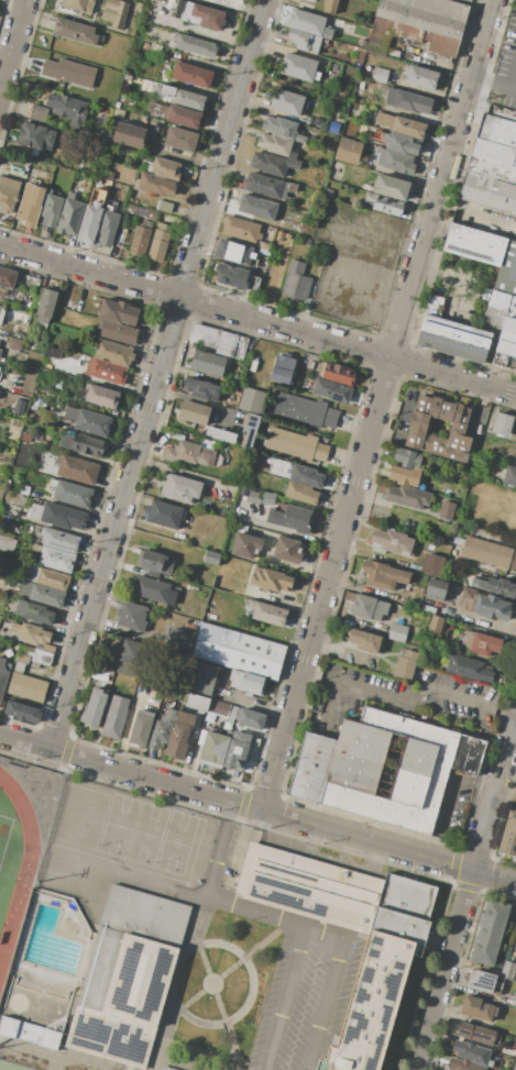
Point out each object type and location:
building: (78, 5)
building: (329, 5)
road: (12, 8)
building: (437, 8)
building: (114, 12)
building: (201, 15)
building: (419, 19)
building: (307, 22)
building: (75, 31)
road: (200, 31)
building: (408, 37)
building: (304, 41)
building: (195, 45)
road: (13, 47)
building: (154, 47)
building: (398, 55)
building: (162, 58)
road: (503, 64)
building: (298, 66)
parking lot: (505, 69)
building: (69, 73)
building: (380, 74)
building: (191, 75)
building: (420, 76)
building: (127, 77)
building: (182, 97)
building: (408, 100)
building: (287, 102)
building: (67, 109)
building: (37, 112)
building: (180, 115)
building: (402, 125)
building: (279, 126)
building: (129, 134)
building: (35, 136)
building: (299, 137)
building: (180, 139)
building: (496, 140)
building: (399, 143)
building: (274, 144)
building: (348, 151)
building: (293, 154)
building: (396, 162)
building: (273, 164)
building: (164, 168)
building: (492, 168)
building: (106, 174)
building: (156, 184)
building: (266, 186)
building: (392, 187)
building: (293, 188)
building: (488, 191)
building: (8, 194)
building: (30, 205)
building: (384, 205)
building: (164, 206)
building: (259, 208)
building: (51, 210)
building: (140, 211)
building: (69, 216)
building: (90, 219)
building: (107, 229)
building: (241, 229)
building: (268, 234)
building: (279, 235)
building: (287, 236)
building: (140, 239)
building: (307, 241)
building: (160, 242)
building: (474, 244)
building: (265, 246)
building: (233, 252)
building: (507, 269)
building: (7, 277)
building: (237, 277)
road: (457, 279)
building: (296, 280)
building: (69, 305)
building: (433, 305)
building: (44, 308)
building: (118, 311)
building: (1, 313)
road: (257, 319)
building: (505, 329)
building: (119, 333)
building: (453, 339)
building: (0, 340)
building: (219, 341)
building: (15, 343)
building: (0, 352)
building: (52, 352)
building: (113, 353)
building: (208, 363)
building: (252, 368)
building: (283, 368)
building: (106, 371)
building: (339, 373)
road: (157, 374)
building: (234, 378)
road: (98, 380)
building: (202, 389)
building: (331, 390)
building: (102, 396)
road: (197, 400)
building: (251, 400)
building: (307, 405)
road: (377, 405)
building: (194, 412)
building: (303, 416)
building: (88, 421)
building: (503, 427)
building: (416, 429)
building: (250, 430)
building: (220, 434)
building: (297, 439)
building: (83, 444)
building: (295, 450)
building: (188, 453)
building: (407, 457)
building: (76, 468)
building: (306, 475)
building: (510, 475)
building: (403, 476)
building: (180, 487)
building: (72, 493)
building: (300, 493)
building: (407, 496)
building: (254, 497)
building: (268, 498)
building: (446, 509)
building: (165, 515)
building: (58, 516)
building: (289, 519)
building: (59, 540)
building: (391, 542)
building: (7, 544)
building: (245, 545)
building: (287, 550)
building: (488, 552)
building: (211, 558)
building: (56, 560)
building: (154, 562)
building: (432, 565)
building: (383, 575)
building: (47, 577)
building: (270, 580)
building: (497, 586)
building: (153, 589)
building: (437, 589)
building: (43, 594)
building: (486, 605)
building: (366, 606)
building: (32, 611)
building: (267, 613)
building: (131, 616)
building: (436, 625)
building: (397, 632)
building: (31, 633)
building: (178, 639)
building: (364, 640)
building: (481, 642)
building: (238, 651)
building: (130, 657)
building: (30, 658)
building: (405, 665)
building: (468, 669)
road: (309, 672)
building: (99, 673)
building: (2, 676)
road: (325, 676)
building: (204, 677)
building: (246, 682)
building: (25, 688)
road: (413, 693)
building: (197, 702)
road: (256, 706)
building: (94, 707)
building: (219, 708)
building: (22, 712)
road: (504, 713)
building: (251, 719)
building: (113, 721)
building: (141, 728)
building: (162, 729)
building: (179, 735)
building: (213, 749)
building: (238, 749)
building: (468, 753)
building: (311, 768)
building: (388, 769)
road: (448, 796)
road: (257, 808)
park: (4, 834)
building: (508, 835)
building: (274, 841)
track: (19, 871)
road: (466, 893)
road: (226, 904)
building: (490, 933)
building: (386, 956)
building: (507, 970)
building: (95, 974)
building: (481, 981)
parking lot: (306, 995)
road: (287, 999)
road: (325, 1004)
building: (477, 1008)
building: (477, 1034)
building: (471, 1052)
building: (463, 1065)
building: (166, 1069)

